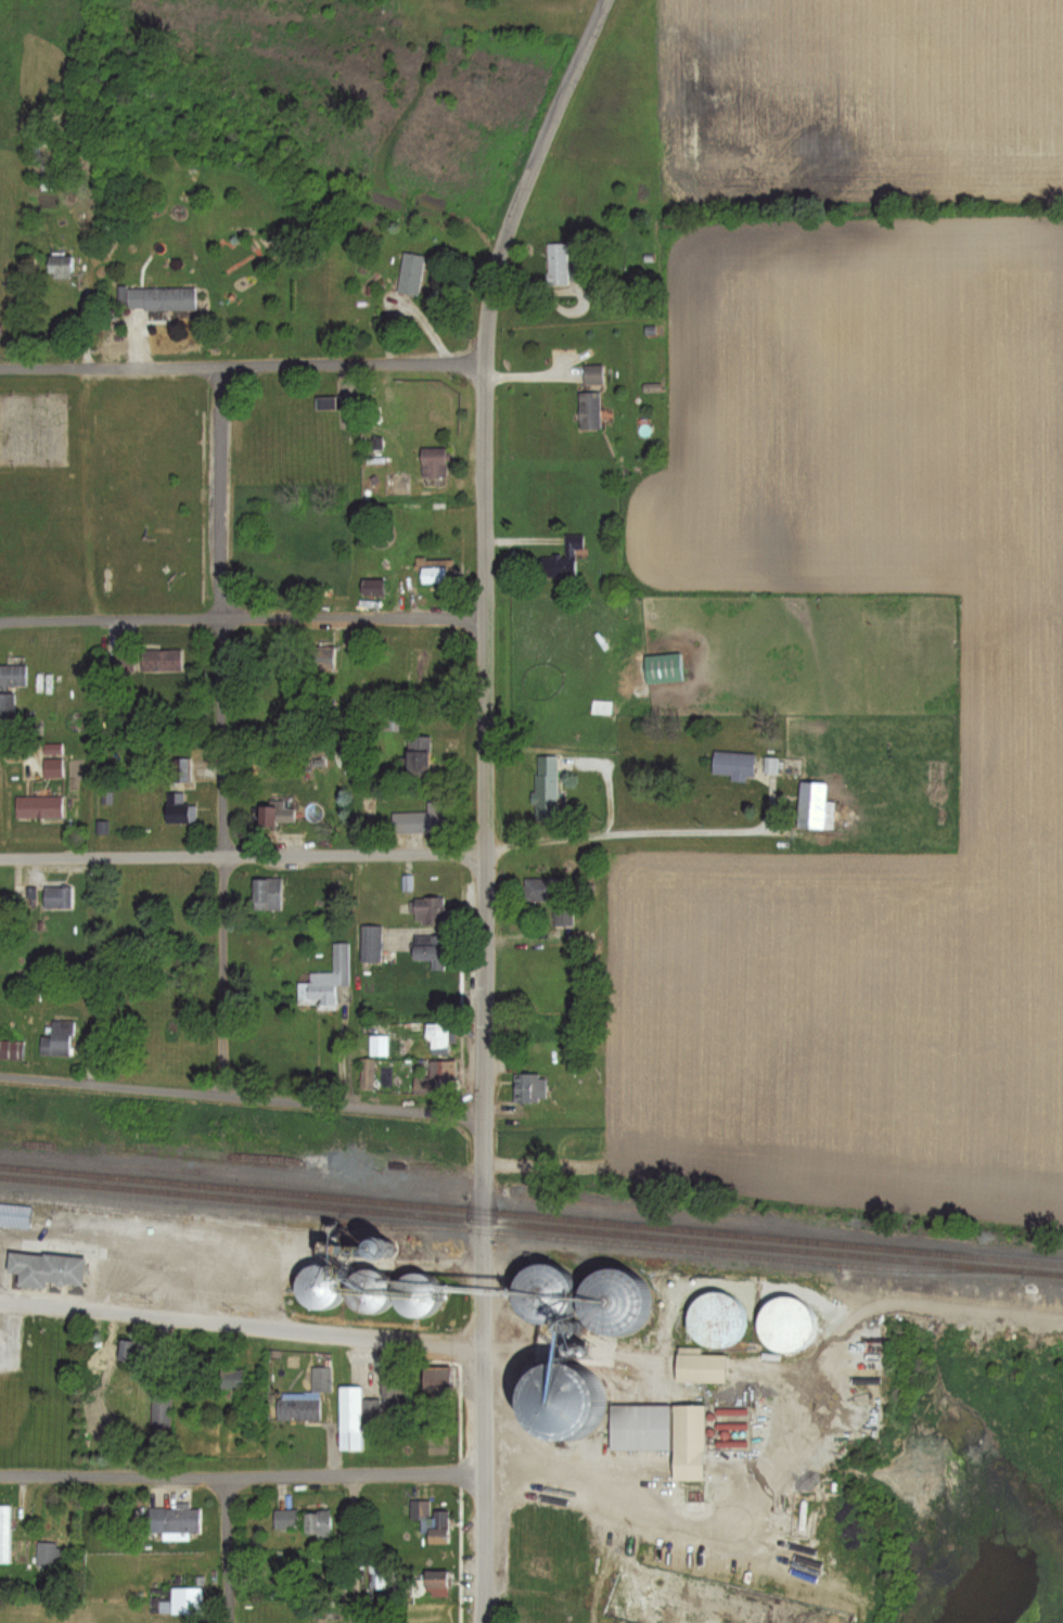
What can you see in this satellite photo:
road: (573, 62)
building: (558, 265)
building: (59, 268)
building: (411, 274)
building: (159, 299)
road: (245, 367)
road: (489, 368)
building: (592, 375)
building: (325, 404)
building: (589, 411)
building: (432, 463)
park: (105, 496)
building: (562, 559)
building: (434, 570)
building: (371, 586)
road: (243, 621)
building: (318, 656)
building: (161, 660)
building: (662, 667)
building: (414, 668)
building: (12, 675)
building: (600, 706)
building: (5, 707)
building: (392, 718)
road: (487, 718)
road: (222, 733)
building: (415, 755)
building: (733, 764)
building: (51, 767)
building: (177, 768)
building: (543, 785)
building: (811, 803)
building: (37, 806)
building: (177, 807)
building: (273, 811)
building: (418, 819)
road: (630, 831)
road: (243, 856)
building: (536, 889)
building: (18, 893)
building: (265, 893)
building: (56, 896)
building: (427, 909)
building: (562, 915)
building: (369, 943)
building: (428, 949)
building: (324, 979)
road: (485, 1000)
building: (55, 1037)
building: (440, 1038)
building: (10, 1048)
building: (437, 1076)
building: (529, 1086)
road: (242, 1099)
railway: (530, 1211)
building: (15, 1214)
road: (485, 1216)
railway: (531, 1222)
railway: (512, 1232)
building: (44, 1267)
building: (536, 1278)
building: (312, 1286)
road: (483, 1294)
building: (606, 1301)
building: (713, 1319)
building: (784, 1321)
road: (240, 1322)
building: (127, 1351)
building: (700, 1366)
building: (436, 1378)
building: (232, 1379)
building: (321, 1379)
building: (556, 1401)
building: (372, 1408)
building: (297, 1409)
building: (162, 1411)
building: (349, 1418)
building: (661, 1432)
road: (242, 1474)
road: (484, 1482)
road: (652, 1515)
building: (430, 1518)
building: (284, 1519)
building: (174, 1520)
building: (317, 1523)
building: (7, 1528)
building: (548, 1529)
road: (225, 1549)
building: (49, 1555)
building: (273, 1567)
building: (377, 1574)
building: (433, 1581)
building: (181, 1600)

